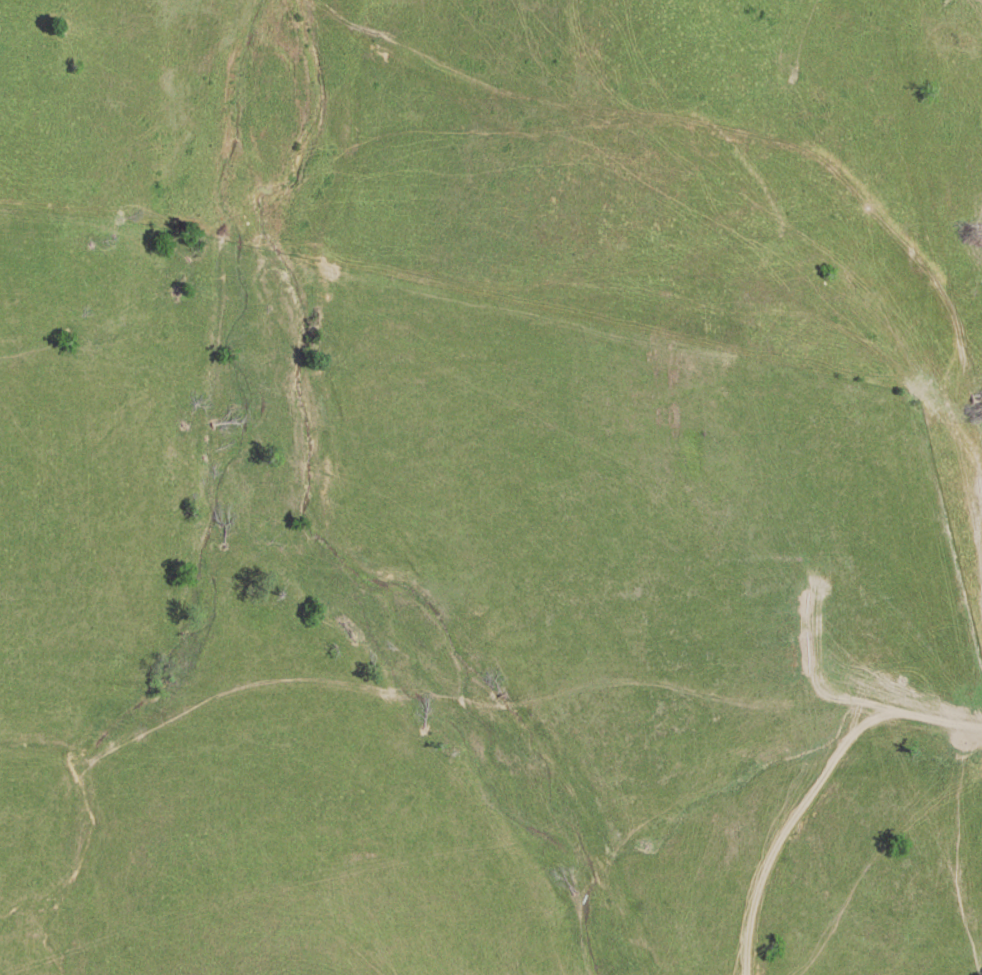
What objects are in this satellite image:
road: (857, 806)

